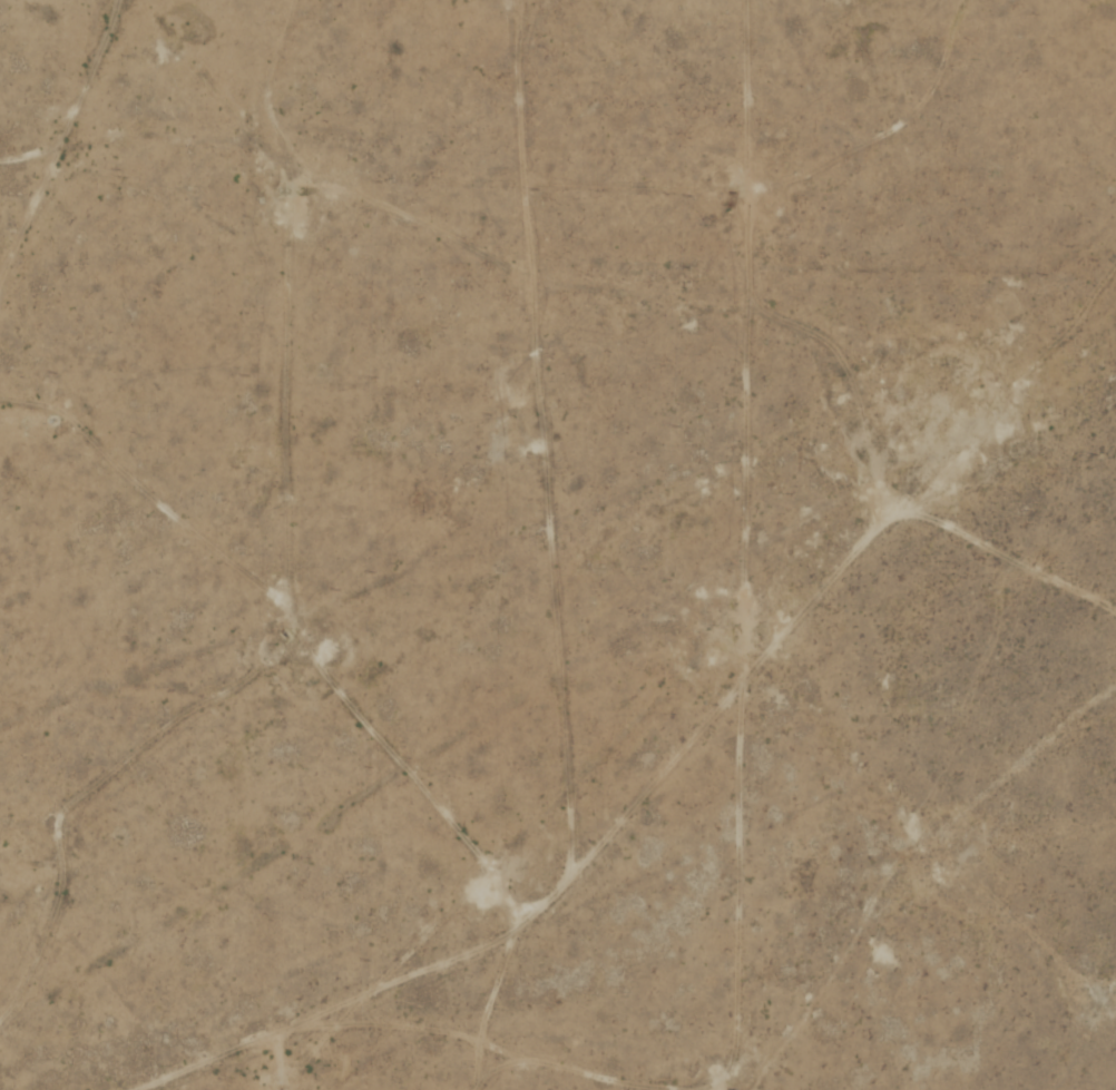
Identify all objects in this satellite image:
road: (176, 57)
road: (61, 87)
road: (875, 139)
road: (503, 236)
road: (747, 304)
road: (848, 521)
road: (286, 553)
road: (725, 848)
road: (545, 858)
road: (1109, 916)
road: (501, 998)

